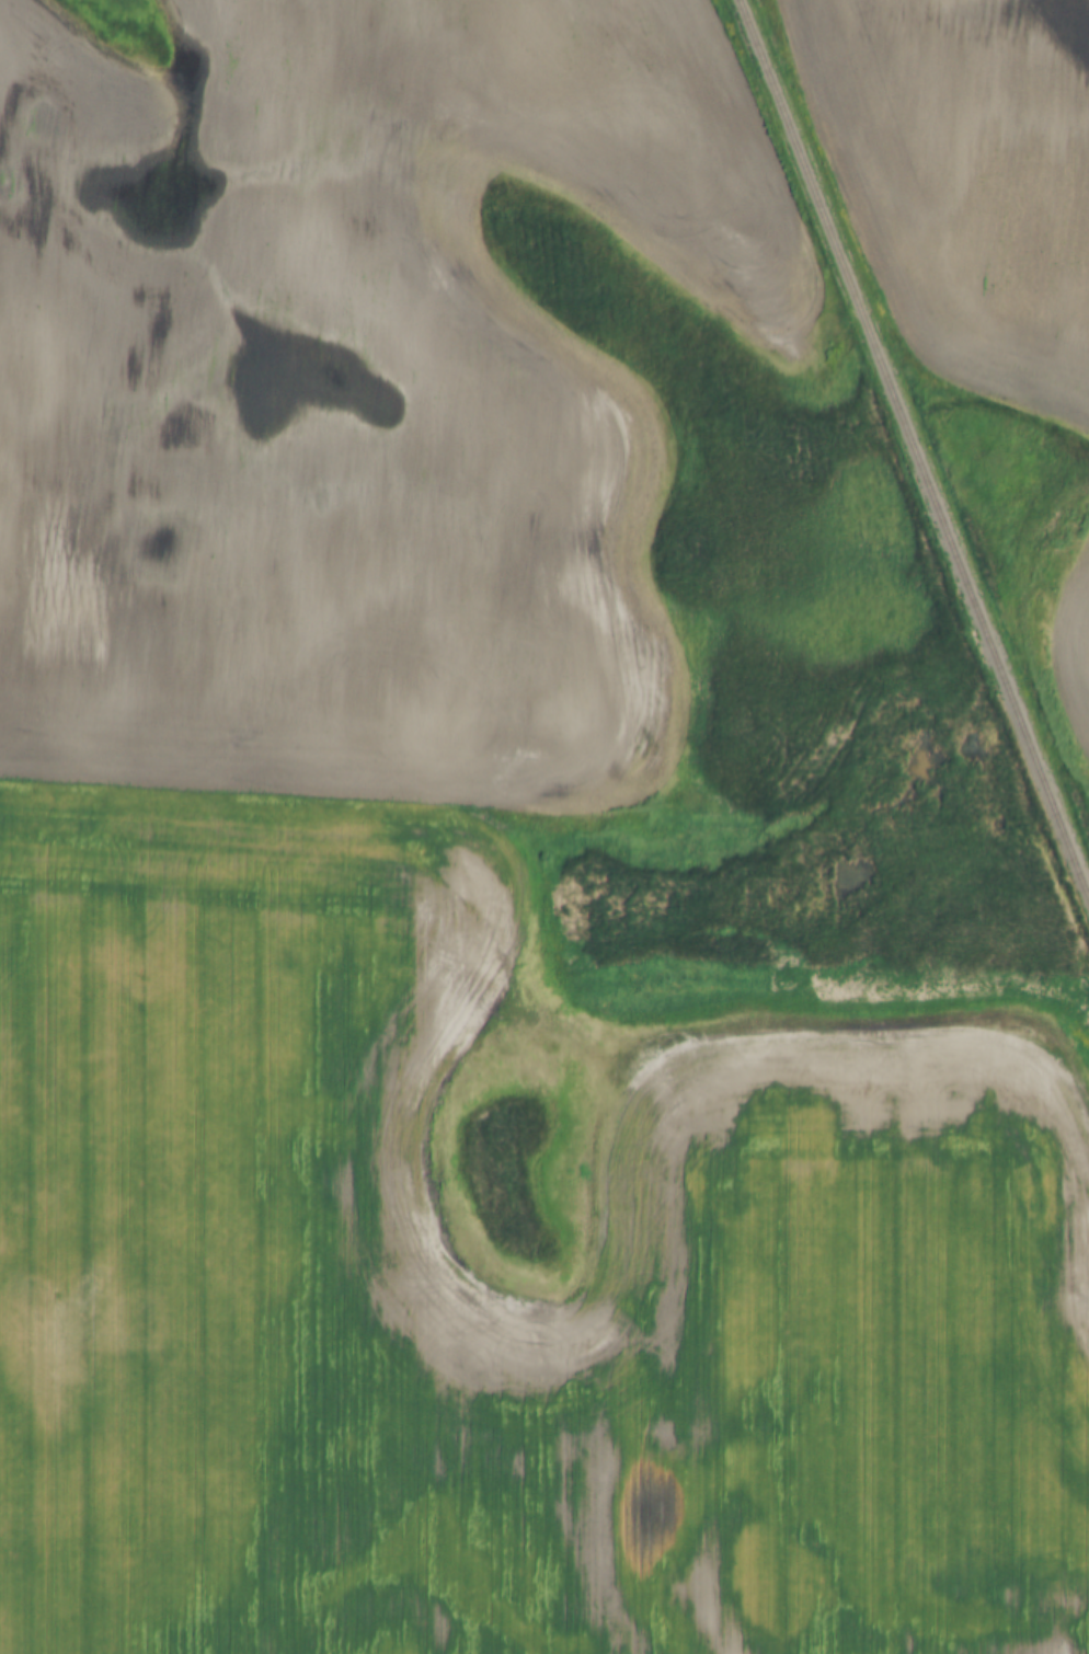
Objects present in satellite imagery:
railway: (913, 450)

